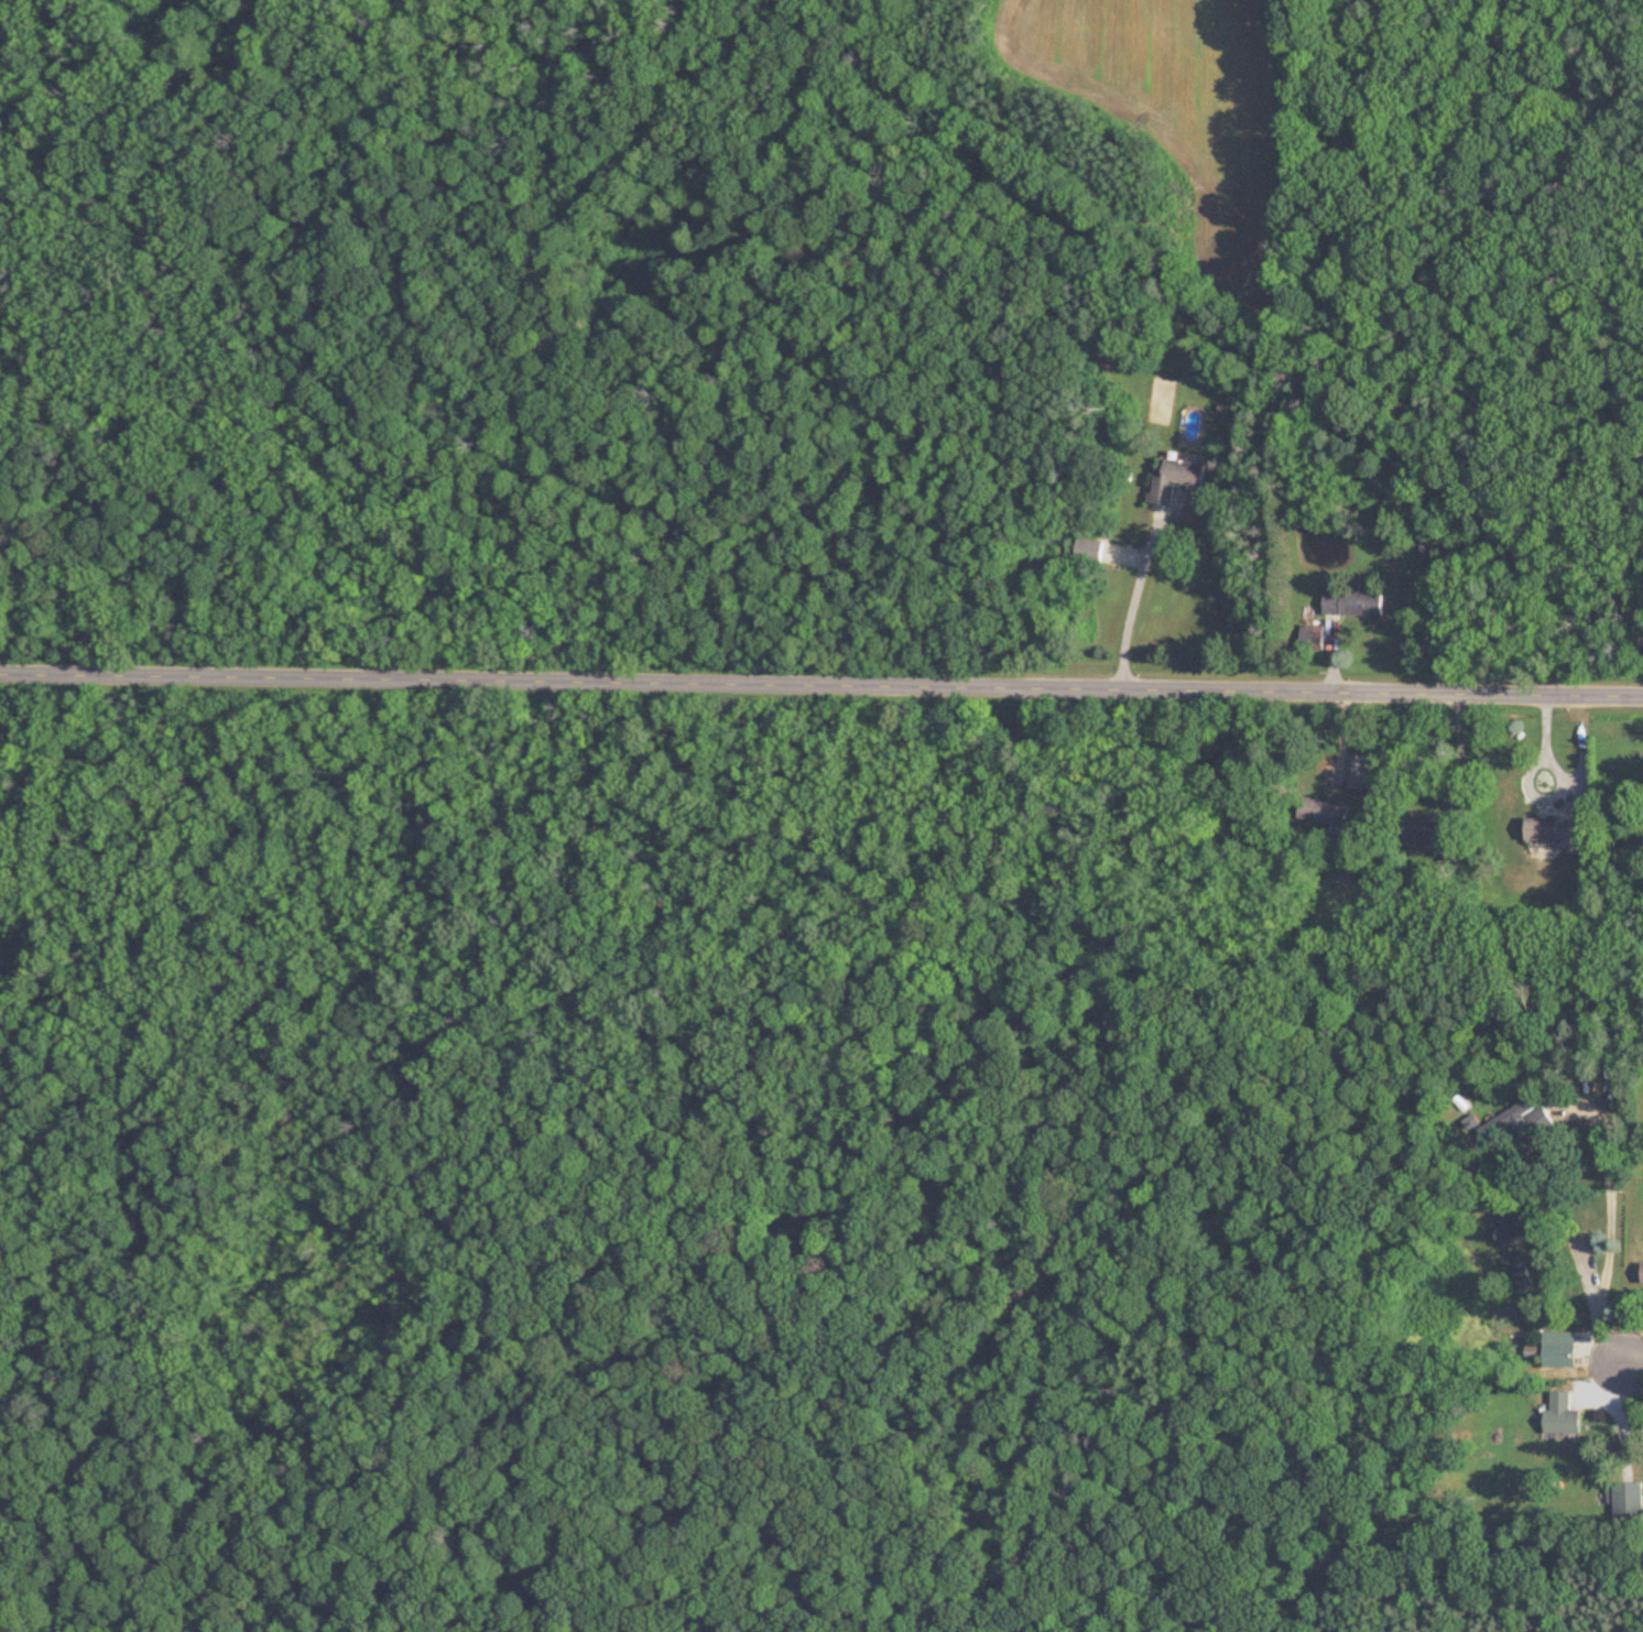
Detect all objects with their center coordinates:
building: (1178, 477)
building: (1090, 550)
building: (1353, 602)
road: (1134, 606)
road: (821, 685)
building: (1361, 771)
road: (1530, 773)
building: (1324, 810)
building: (1427, 830)
building: (1558, 833)
building: (1514, 1123)
building: (1523, 1216)
road: (1595, 1295)
building: (1559, 1348)
road: (1615, 1362)
building: (1563, 1414)

